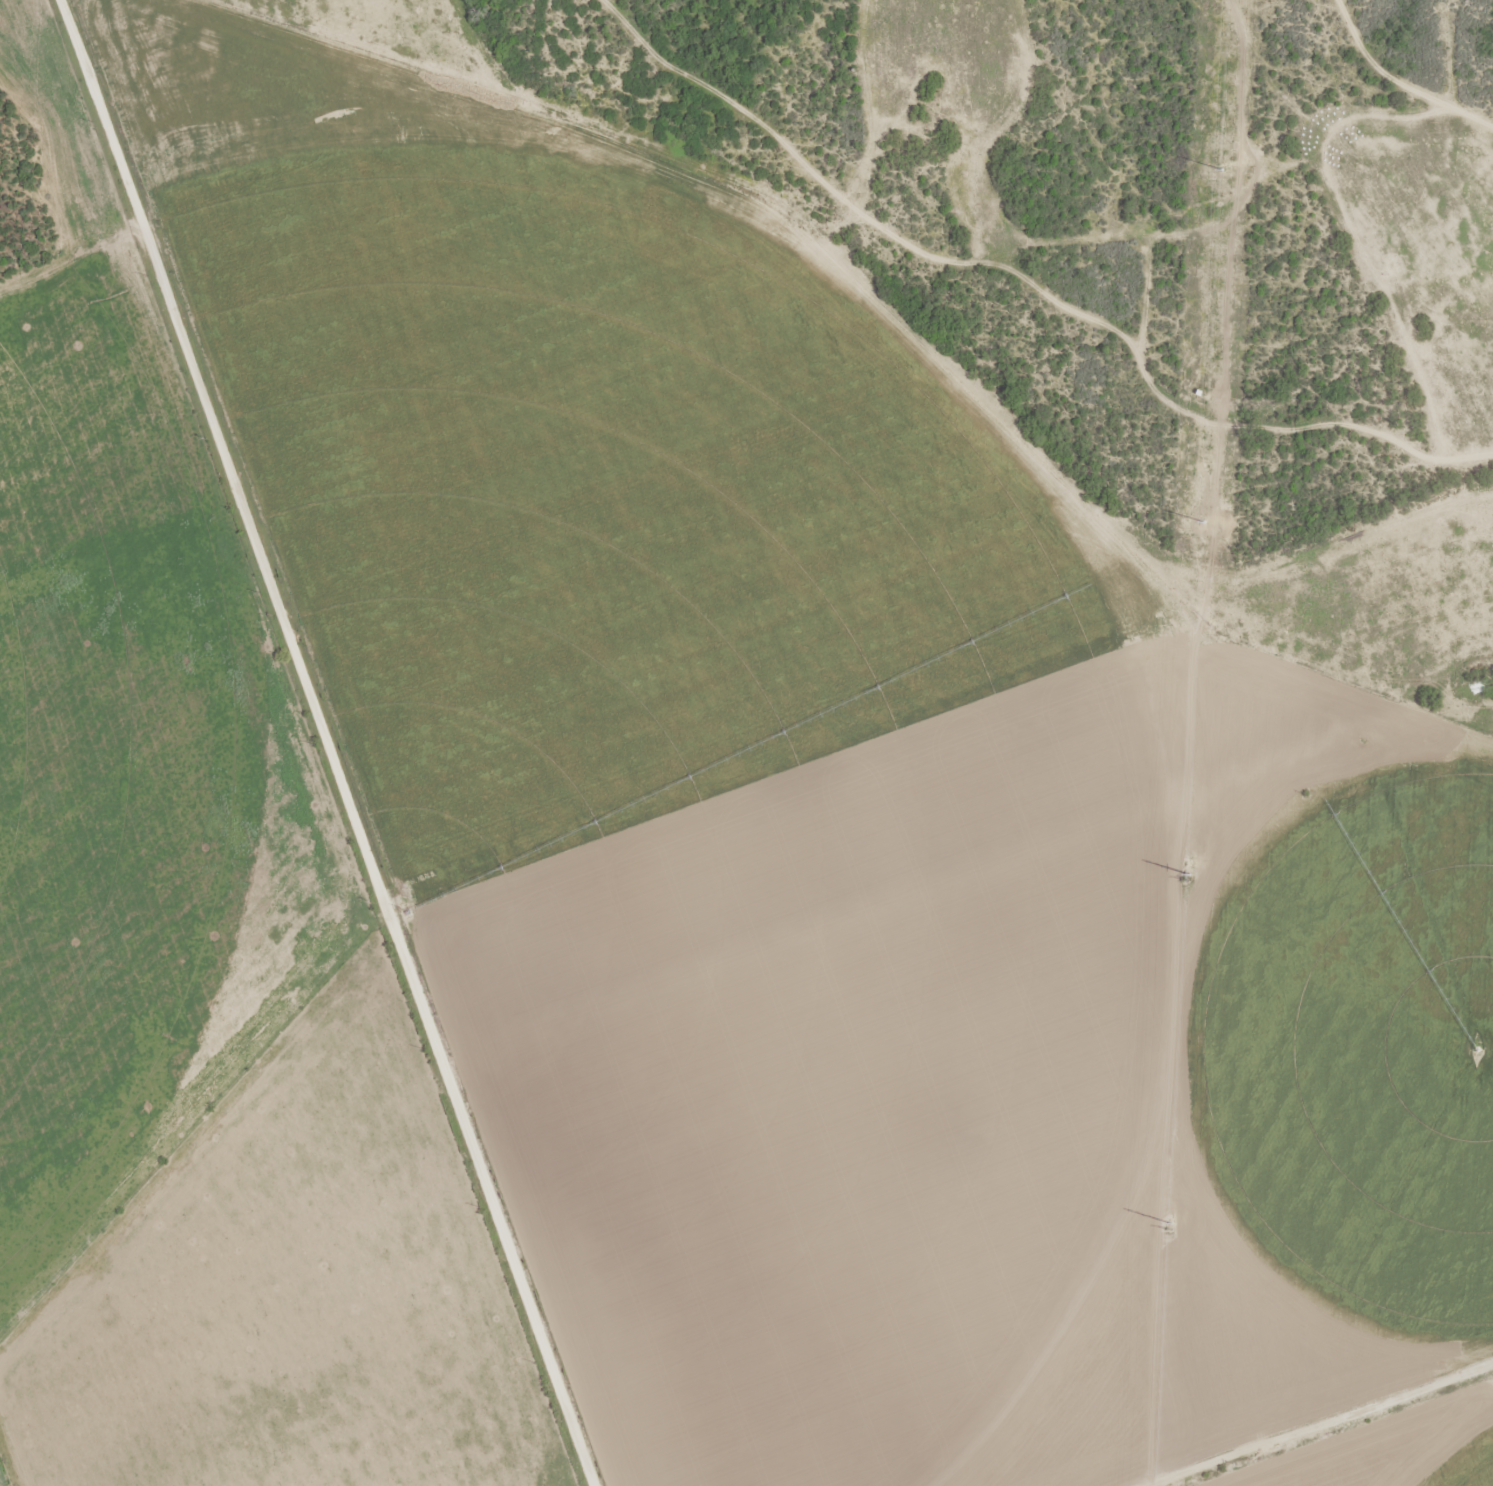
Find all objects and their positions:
power tower: (1221, 174)
power tower: (1201, 527)
road: (335, 742)
power tower: (1185, 880)
power tower: (1169, 1229)

